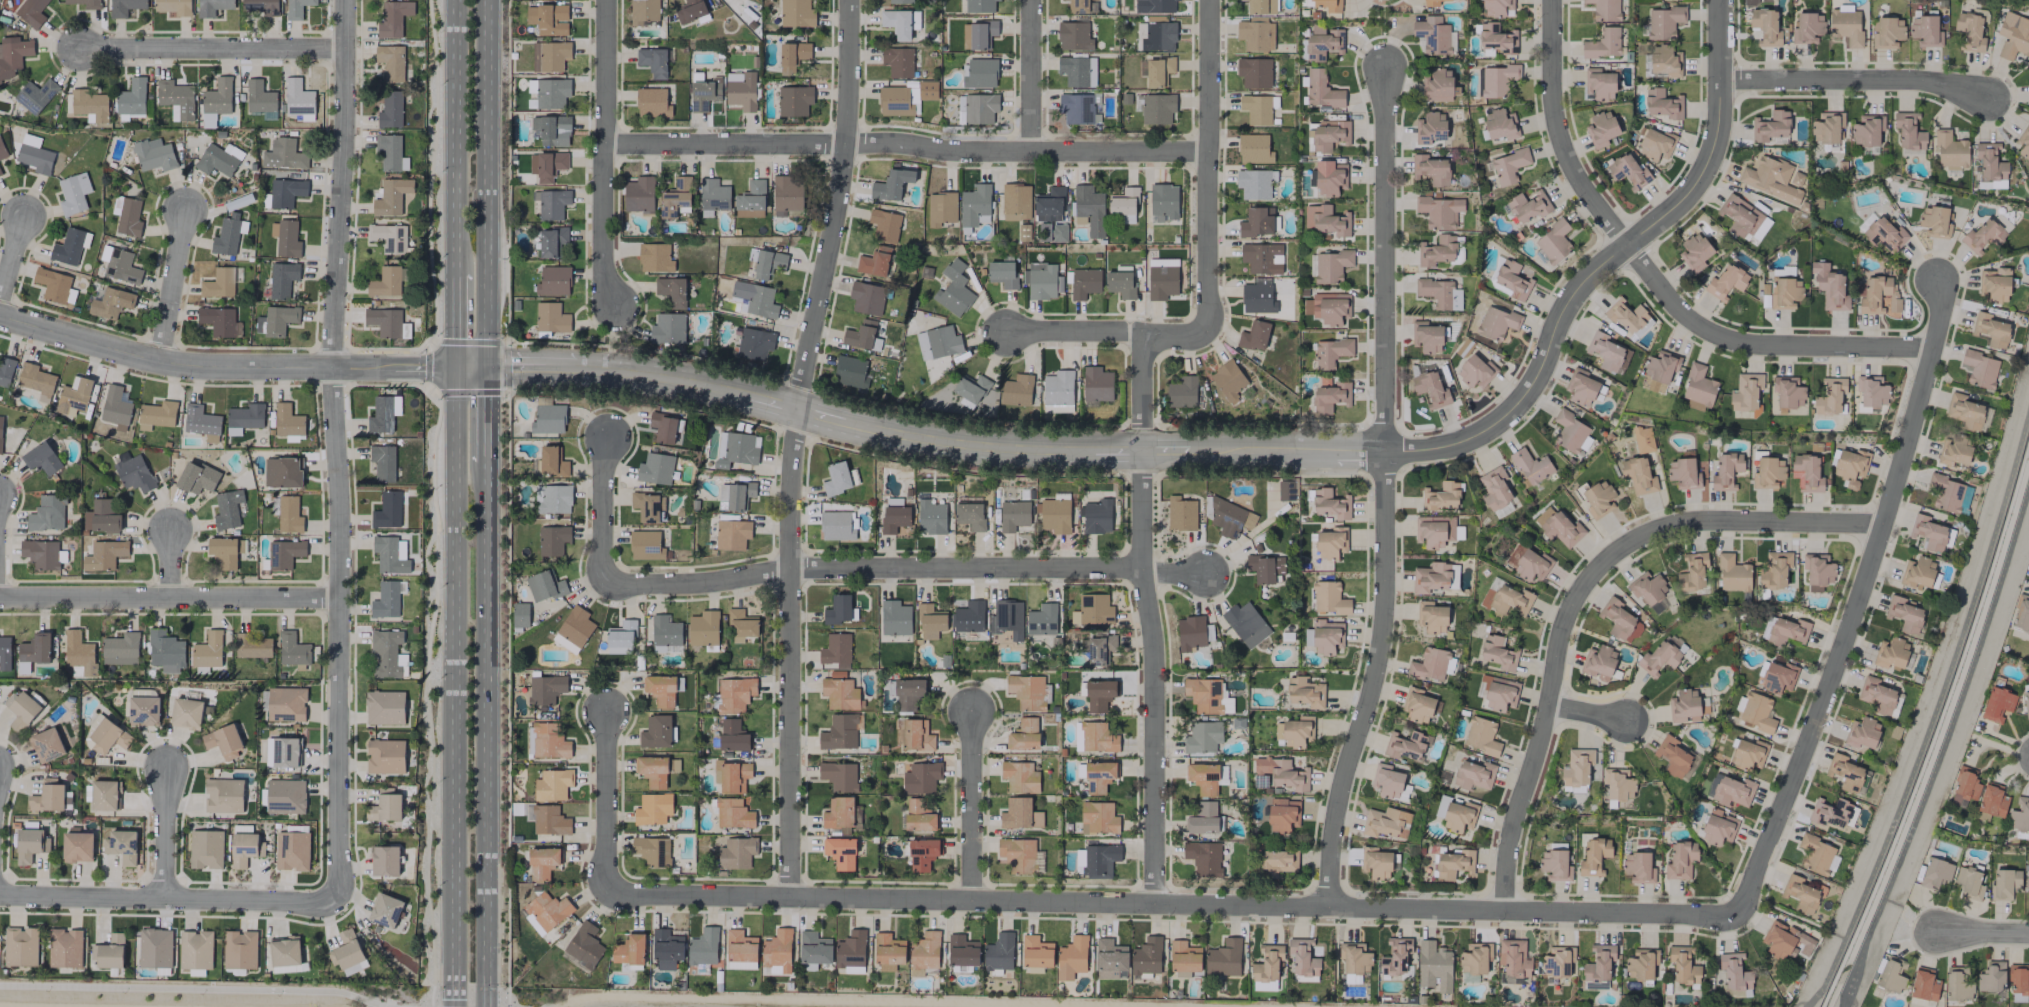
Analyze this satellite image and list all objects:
building: (900, 1)
building: (84, 3)
building: (1431, 3)
building: (1328, 5)
building: (173, 6)
building: (261, 6)
building: (979, 6)
building: (1080, 6)
building: (1154, 6)
building: (1260, 6)
building: (124, 7)
building: (212, 7)
building: (296, 8)
building: (1604, 10)
building: (690, 11)
building: (31, 12)
building: (644, 13)
building: (796, 13)
building: (393, 18)
building: (547, 19)
building: (899, 22)
building: (1663, 22)
building: (1845, 24)
building: (1765, 26)
building: (1807, 28)
building: (1140, 30)
building: (1925, 31)
building: (1969, 31)
building: (1886, 32)
building: (977, 34)
building: (1432, 34)
building: (1255, 35)
building: (2013, 35)
building: (1073, 36)
building: (1158, 36)
building: (1496, 38)
building: (1323, 42)
building: (1602, 44)
road: (212, 49)
building: (13, 54)
building: (792, 55)
building: (549, 56)
building: (1665, 60)
building: (653, 61)
building: (390, 62)
building: (897, 62)
building: (1156, 70)
building: (1077, 71)
building: (1254, 72)
building: (979, 73)
road: (1032, 76)
building: (1498, 80)
road: (1854, 81)
building: (2028, 81)
building: (1599, 84)
building: (1438, 85)
building: (740, 90)
building: (1321, 90)
building: (551, 93)
building: (704, 93)
building: (35, 95)
building: (131, 97)
building: (259, 97)
building: (298, 97)
building: (175, 99)
building: (216, 100)
building: (794, 100)
building: (895, 101)
building: (651, 102)
road: (2006, 103)
building: (1662, 104)
building: (90, 105)
building: (1077, 108)
building: (1157, 108)
building: (390, 109)
building: (1256, 109)
building: (1500, 124)
building: (1770, 126)
building: (1430, 127)
building: (1826, 127)
building: (1601, 129)
building: (550, 130)
building: (1867, 130)
building: (1908, 131)
road: (1560, 132)
building: (1327, 135)
road: (454, 137)
building: (2024, 141)
building: (1655, 144)
road: (908, 145)
building: (1253, 149)
building: (1950, 150)
building: (2, 151)
building: (390, 153)
building: (153, 154)
building: (283, 155)
road: (605, 155)
building: (218, 159)
building: (1989, 162)
building: (546, 165)
building: (1509, 166)
road: (1211, 167)
building: (1430, 169)
building: (1628, 170)
building: (0, 174)
building: (1329, 178)
building: (1769, 178)
building: (1795, 178)
road: (485, 183)
building: (1255, 183)
building: (891, 184)
building: (285, 192)
building: (639, 194)
building: (71, 195)
building: (786, 195)
building: (712, 196)
building: (390, 197)
building: (676, 198)
building: (750, 199)
building: (1015, 202)
building: (1163, 202)
building: (551, 203)
building: (1049, 205)
building: (1123, 205)
building: (1527, 206)
building: (974, 207)
building: (941, 208)
building: (1089, 210)
building: (1439, 211)
building: (129, 217)
building: (1743, 218)
building: (1325, 220)
building: (1934, 221)
building: (1256, 222)
building: (1865, 222)
building: (884, 225)
building: (1884, 234)
building: (228, 235)
building: (1982, 236)
building: (388, 237)
building: (287, 239)
building: (551, 242)
building: (1553, 242)
building: (69, 246)
building: (1436, 250)
building: (1694, 252)
building: (654, 258)
building: (1261, 258)
road: (12, 261)
building: (874, 261)
building: (765, 262)
building: (121, 266)
building: (1331, 266)
road: (1606, 266)
building: (1002, 273)
building: (1161, 278)
building: (282, 279)
building: (1042, 280)
building: (1511, 280)
building: (387, 281)
building: (553, 281)
building: (1084, 282)
building: (1726, 282)
building: (218, 283)
building: (1120, 283)
building: (1994, 283)
building: (54, 286)
building: (1829, 286)
building: (953, 289)
road: (172, 290)
building: (671, 291)
building: (1784, 292)
building: (1439, 293)
building: (1878, 295)
building: (1257, 297)
building: (866, 298)
building: (761, 302)
building: (111, 303)
building: (1327, 307)
building: (1626, 316)
building: (550, 318)
building: (279, 319)
road: (454, 320)
building: (219, 321)
building: (387, 323)
building: (1496, 323)
building: (259, 324)
building: (667, 328)
building: (1990, 330)
road: (1110, 333)
building: (861, 335)
building: (1253, 336)
building: (1426, 337)
building: (937, 342)
building: (754, 343)
road: (1760, 346)
building: (1330, 352)
building: (1607, 353)
road: (223, 366)
road: (469, 366)
traffic signals: (485, 366)
traffic signals: (454, 367)
building: (1980, 369)
building: (5, 370)
building: (1475, 371)
building: (1658, 372)
building: (851, 373)
building: (36, 380)
building: (1228, 381)
building: (1096, 385)
building: (1580, 387)
building: (970, 388)
building: (1057, 388)
building: (1698, 388)
building: (1430, 389)
building: (1016, 390)
building: (1745, 391)
building: (1872, 391)
building: (1182, 392)
building: (1787, 392)
building: (73, 396)
building: (1829, 396)
building: (1330, 397)
building: (115, 408)
building: (1964, 411)
building: (383, 414)
building: (156, 415)
road: (485, 415)
building: (244, 418)
building: (548, 419)
building: (287, 421)
building: (201, 422)
building: (663, 427)
building: (0, 430)
building: (1571, 432)
building: (1643, 439)
road: (932, 442)
road: (794, 445)
road: (335, 447)
building: (736, 449)
building: (1954, 451)
building: (41, 458)
building: (383, 462)
building: (551, 462)
building: (1530, 466)
building: (1850, 467)
building: (655, 468)
building: (1726, 470)
building: (1807, 471)
building: (132, 472)
building: (282, 472)
building: (1767, 472)
building: (1683, 473)
building: (1638, 475)
building: (196, 477)
building: (836, 478)
building: (1494, 488)
building: (1281, 490)
building: (1946, 492)
road: (1386, 493)
building: (1441, 496)
building: (1598, 498)
building: (552, 499)
building: (1330, 504)
building: (647, 506)
building: (228, 509)
building: (389, 509)
road: (603, 512)
building: (47, 513)
building: (1180, 513)
building: (288, 514)
building: (969, 515)
building: (1013, 515)
building: (1055, 515)
building: (1095, 516)
building: (100, 517)
building: (930, 517)
building: (893, 518)
building: (1229, 518)
road: (1727, 523)
building: (835, 526)
building: (1558, 527)
building: (1433, 530)
building: (1930, 533)
building: (731, 534)
building: (552, 540)
building: (1331, 542)
building: (645, 545)
building: (223, 552)
building: (284, 553)
building: (42, 554)
building: (103, 554)
building: (388, 555)
road: (171, 562)
building: (1527, 563)
building: (1265, 567)
road: (905, 568)
building: (1774, 570)
building: (1817, 571)
building: (1692, 572)
building: (1917, 573)
building: (1732, 574)
building: (1434, 577)
building: (544, 586)
building: (1647, 587)
road: (170, 596)
building: (1328, 598)
building: (1505, 598)
building: (385, 600)
road: (1854, 604)
building: (838, 609)
building: (1094, 609)
building: (2021, 613)
building: (1903, 614)
building: (520, 616)
building: (968, 616)
building: (1431, 616)
building: (895, 618)
building: (1006, 618)
road: (1151, 618)
building: (1041, 619)
building: (1619, 620)
building: (930, 621)
building: (1245, 624)
building: (741, 625)
building: (575, 626)
building: (1766, 627)
building: (703, 628)
building: (665, 630)
building: (1787, 631)
building: (1190, 633)
building: (1307, 637)
building: (1326, 637)
building: (620, 638)
building: (251, 646)
building: (666, 648)
building: (1099, 648)
building: (35, 649)
building: (120, 649)
building: (292, 649)
building: (208, 650)
building: (166, 651)
building: (79, 652)
building: (5, 653)
building: (1498, 653)
building: (1891, 653)
building: (386, 654)
building: (1658, 658)
building: (1598, 662)
building: (1431, 664)
building: (1777, 677)
road: (454, 687)
building: (545, 689)
building: (660, 690)
building: (1028, 692)
building: (1305, 692)
building: (908, 693)
building: (734, 694)
building: (839, 694)
building: (1499, 694)
building: (1098, 695)
building: (1207, 695)
building: (1876, 695)
building: (2025, 700)
building: (286, 704)
building: (1997, 704)
building: (1417, 705)
building: (1684, 706)
building: (384, 707)
building: (21, 710)
building: (143, 711)
building: (1756, 712)
building: (186, 713)
road: (1589, 713)
road: (1932, 715)
building: (1297, 731)
building: (655, 732)
building: (839, 732)
building: (1861, 732)
building: (106, 734)
building: (914, 735)
building: (1023, 735)
road: (485, 736)
building: (732, 736)
building: (1482, 736)
building: (1094, 737)
building: (1202, 737)
building: (223, 741)
building: (548, 741)
road: (1540, 742)
road: (1941, 743)
building: (46, 745)
building: (1406, 746)
building: (281, 752)
building: (1747, 754)
building: (385, 756)
building: (1672, 756)
building: (1577, 767)
building: (652, 771)
building: (1279, 774)
building: (1473, 775)
building: (730, 776)
building: (838, 776)
building: (1019, 777)
building: (1098, 777)
building: (920, 778)
building: (1202, 778)
building: (1386, 781)
building: (552, 784)
building: (1618, 784)
building: (1964, 786)
building: (1732, 791)
building: (104, 795)
building: (47, 796)
building: (223, 796)
building: (285, 796)
building: (1991, 802)
road: (608, 803)
road: (969, 805)
building: (385, 806)
building: (652, 809)
building: (838, 812)
building: (732, 813)
building: (1832, 813)
building: (1018, 814)
building: (1455, 814)
building: (2019, 815)
building: (918, 816)
building: (1283, 816)
building: (1098, 818)
building: (1202, 818)
building: (549, 820)
building: (1385, 822)
building: (1718, 828)
road: (165, 833)
building: (29, 845)
building: (121, 846)
building: (77, 847)
building: (205, 849)
building: (244, 849)
building: (291, 850)
building: (652, 850)
building: (840, 852)
building: (736, 853)
building: (921, 854)
building: (1017, 854)
building: (1815, 854)
building: (1593, 856)
building: (1203, 857)
building: (1680, 859)
building: (384, 860)
building: (1099, 860)
building: (1279, 861)
building: (542, 863)
building: (1376, 863)
building: (1453, 864)
building: (1554, 865)
building: (1638, 867)
building: (1935, 872)
building: (2026, 879)
building: (1968, 881)
building: (2004, 883)
building: (1801, 894)
road: (167, 897)
road: (1172, 904)
building: (384, 910)
building: (545, 912)
road: (1793, 917)
road: (1902, 918)
road: (1982, 933)
building: (1785, 940)
building: (584, 945)
building: (20, 946)
building: (703, 947)
building: (65, 948)
building: (154, 948)
building: (814, 948)
building: (195, 949)
building: (239, 949)
building: (666, 949)
building: (346, 950)
building: (629, 950)
building: (740, 950)
building: (777, 950)
building: (962, 950)
building: (285, 951)
building: (1036, 951)
building: (109, 952)
building: (850, 952)
building: (888, 952)
building: (999, 952)
building: (923, 953)
building: (1110, 955)
building: (1146, 956)
building: (1395, 956)
building: (1071, 957)
building: (1223, 957)
building: (1302, 958)
building: (1354, 958)
building: (1475, 958)
building: (1184, 959)
building: (1512, 961)
building: (1557, 962)
building: (1267, 964)
building: (1641, 964)
building: (1683, 965)
building: (1433, 966)
building: (1598, 967)
building: (771, 970)
building: (1734, 972)
building: (1890, 975)
building: (1469, 977)
building: (1991, 977)
building: (2018, 982)
building: (1923, 984)
building: (1957, 985)
road: (194, 988)

